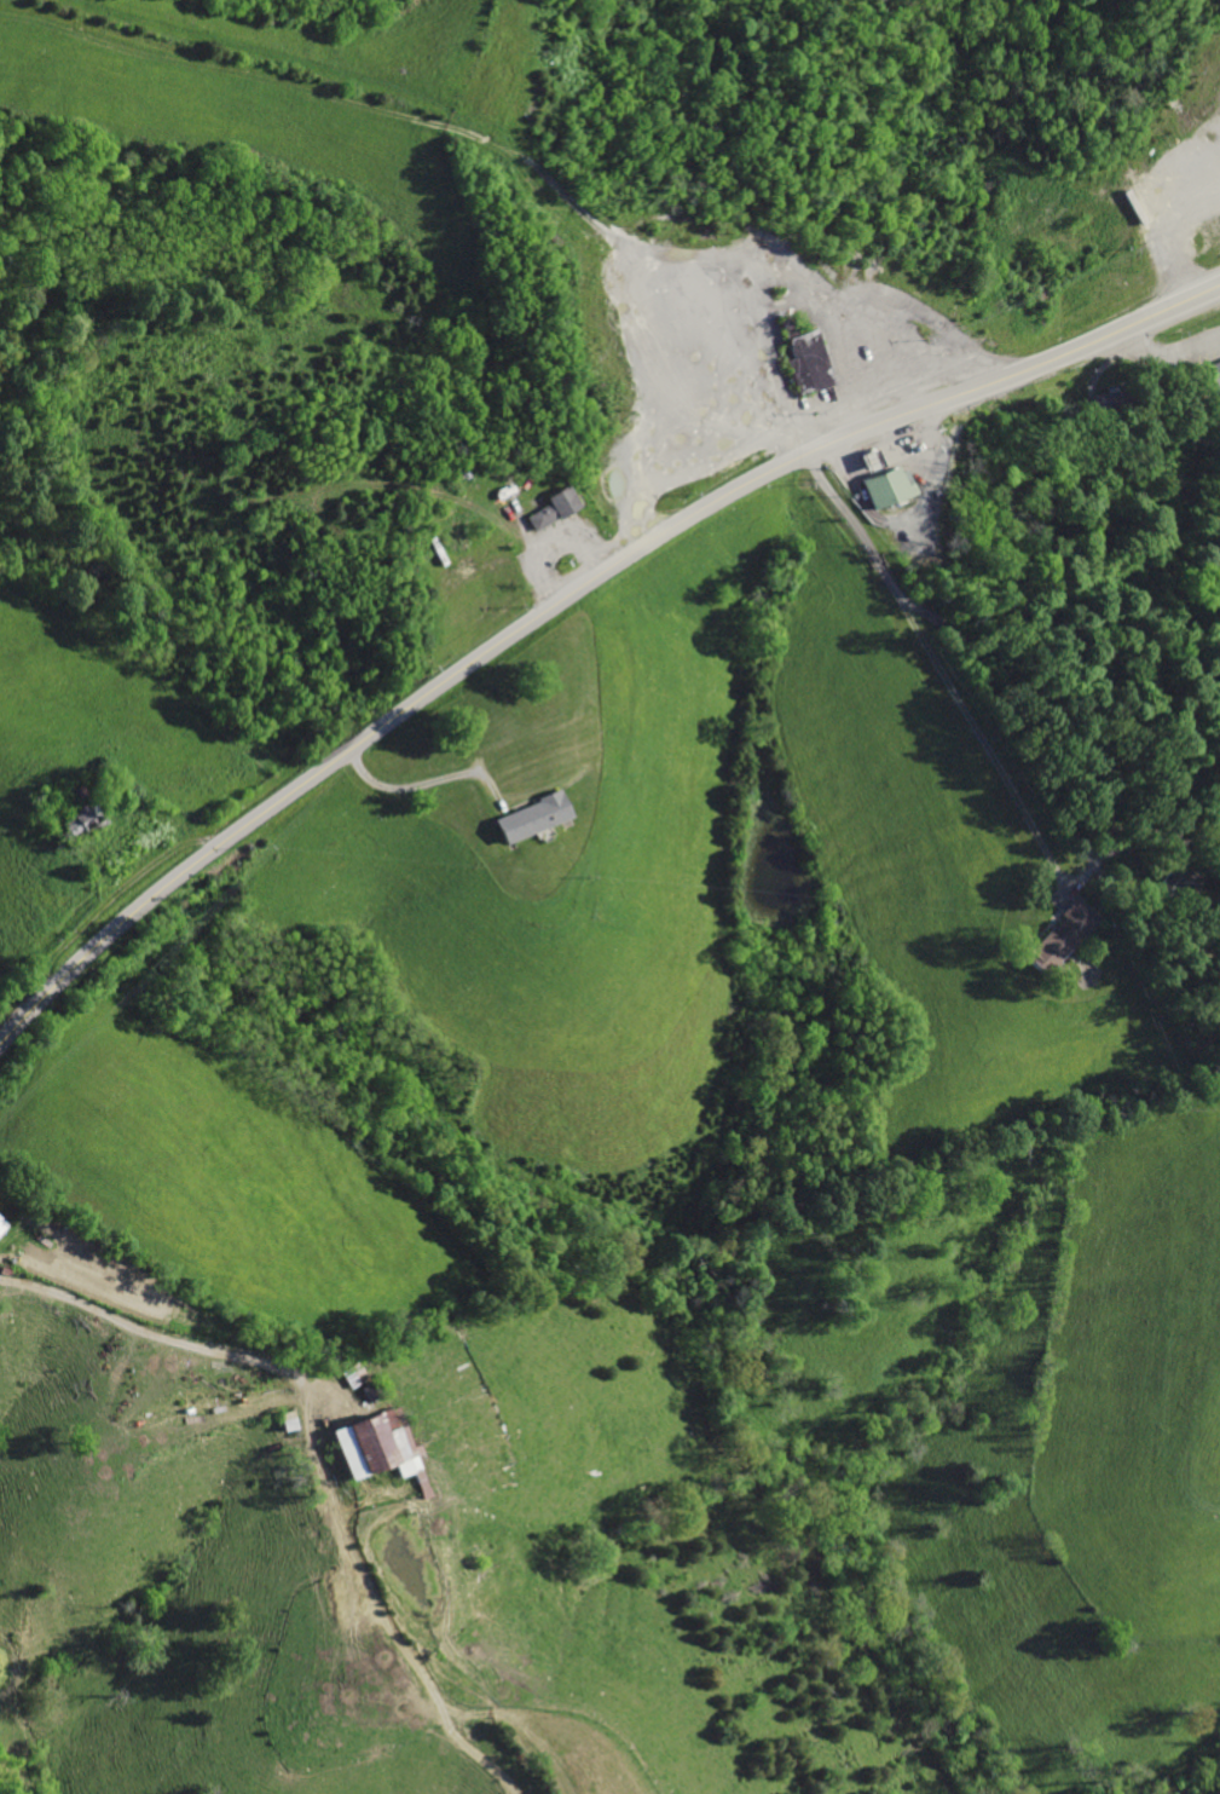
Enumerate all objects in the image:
building: (800, 362)
building: (1210, 373)
building: (881, 489)
building: (550, 508)
road: (567, 598)
road: (932, 662)
building: (524, 819)
building: (1053, 938)
building: (368, 1447)
road: (308, 1494)

